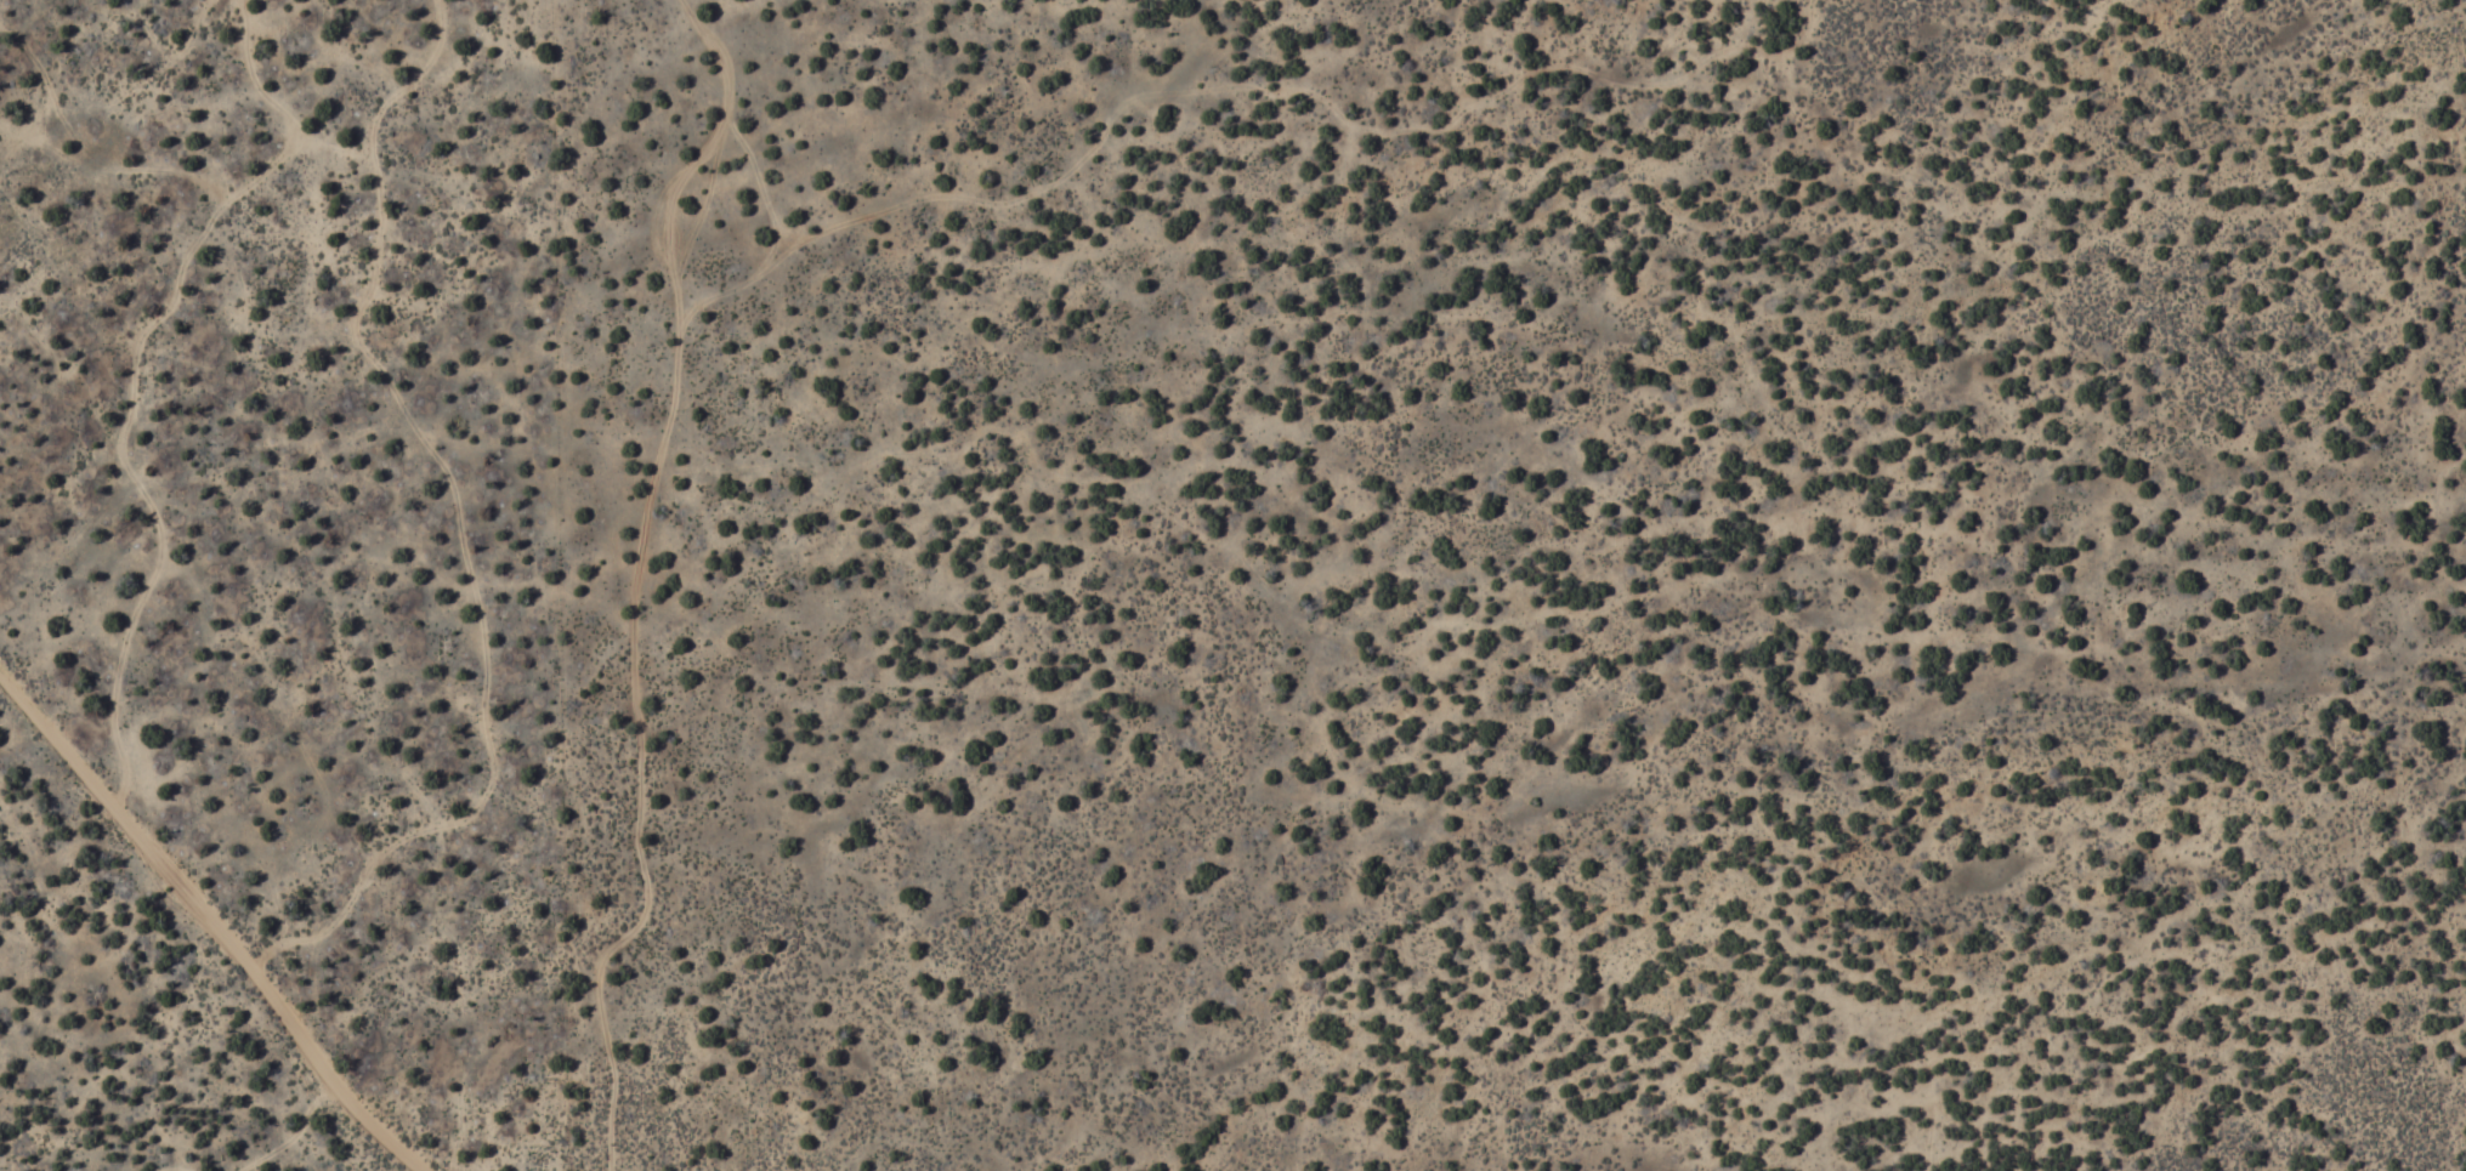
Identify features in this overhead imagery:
road: (81, 777)
road: (290, 1025)

